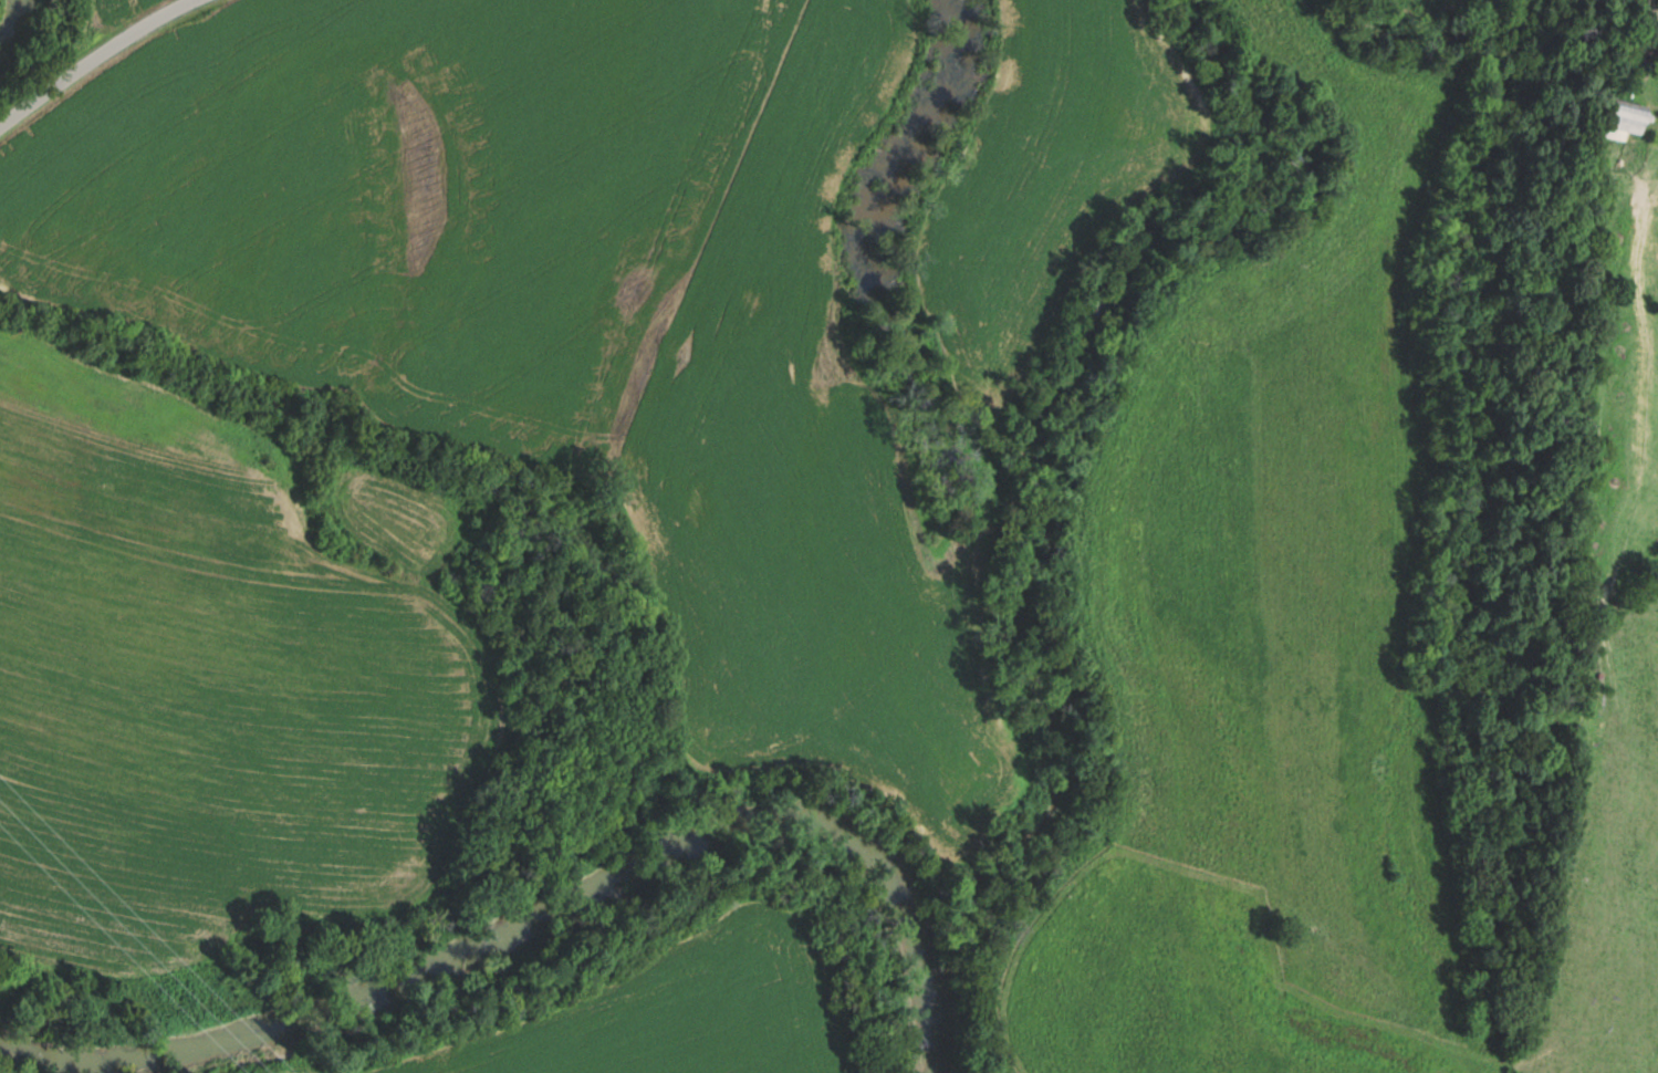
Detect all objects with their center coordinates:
road: (93, 60)
building: (1627, 119)

